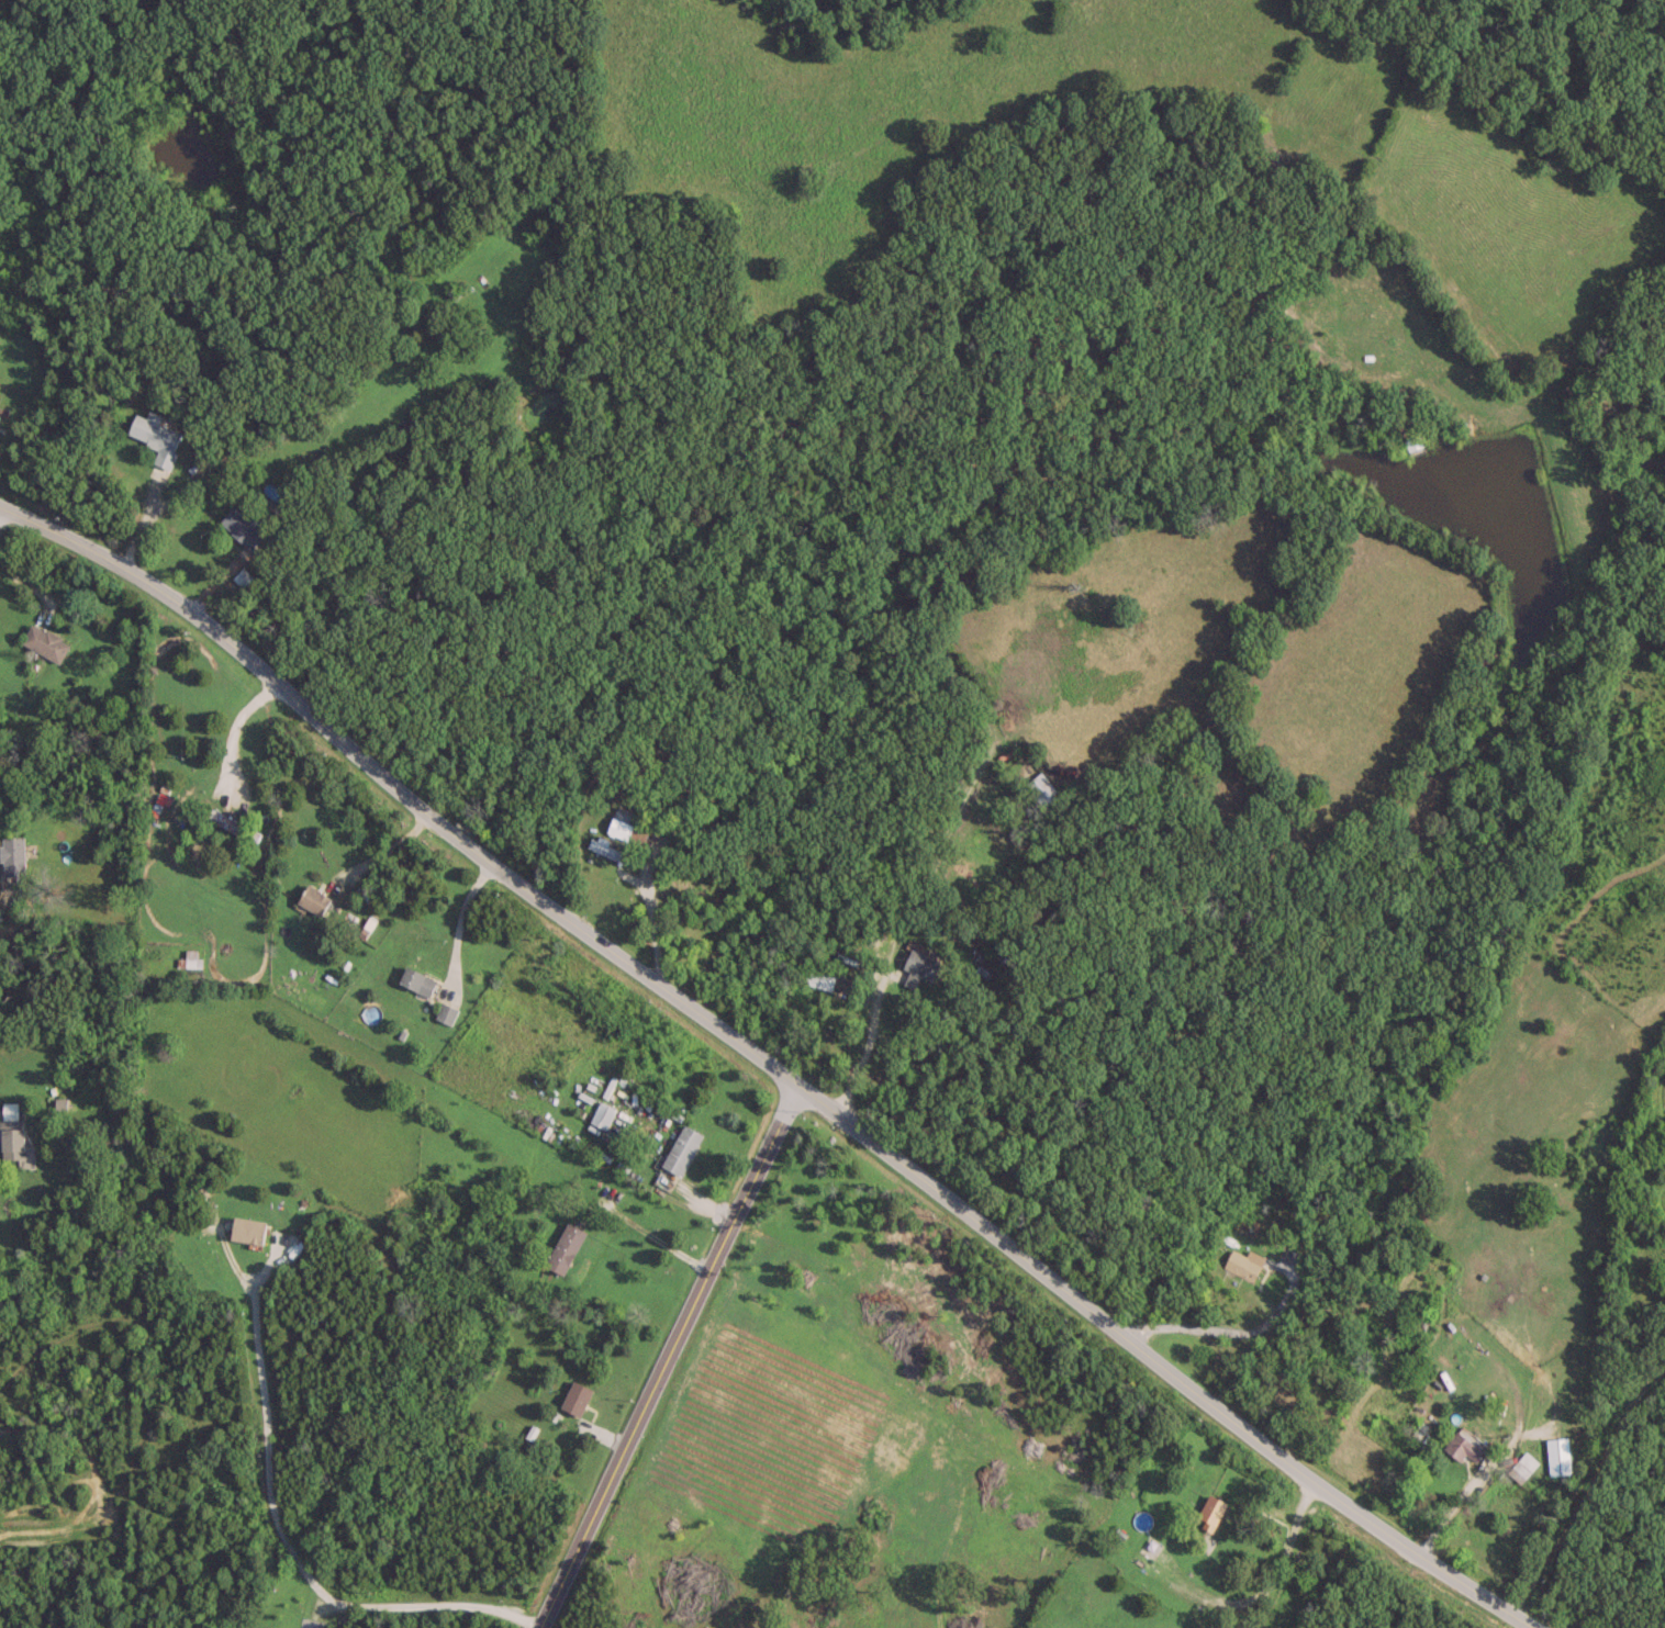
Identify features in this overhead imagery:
building: (1009, 260)
building: (407, 423)
building: (154, 436)
building: (1411, 441)
building: (242, 525)
road: (35, 588)
building: (43, 642)
road: (233, 730)
building: (1039, 788)
road: (399, 790)
building: (232, 824)
building: (624, 826)
building: (608, 851)
road: (379, 853)
building: (11, 855)
building: (312, 899)
road: (8, 901)
road: (648, 909)
road: (906, 909)
road: (458, 922)
building: (917, 966)
building: (817, 976)
building: (415, 981)
building: (444, 1012)
building: (600, 1114)
building: (9, 1132)
building: (680, 1147)
building: (245, 1228)
road: (652, 1234)
building: (562, 1246)
building: (1242, 1262)
road: (1193, 1310)
building: (1420, 1317)
road: (661, 1355)
road: (1159, 1363)
building: (572, 1396)
building: (1461, 1446)
building: (1556, 1455)
building: (1520, 1466)
road: (1587, 1503)
building: (1208, 1512)
road: (277, 1530)

